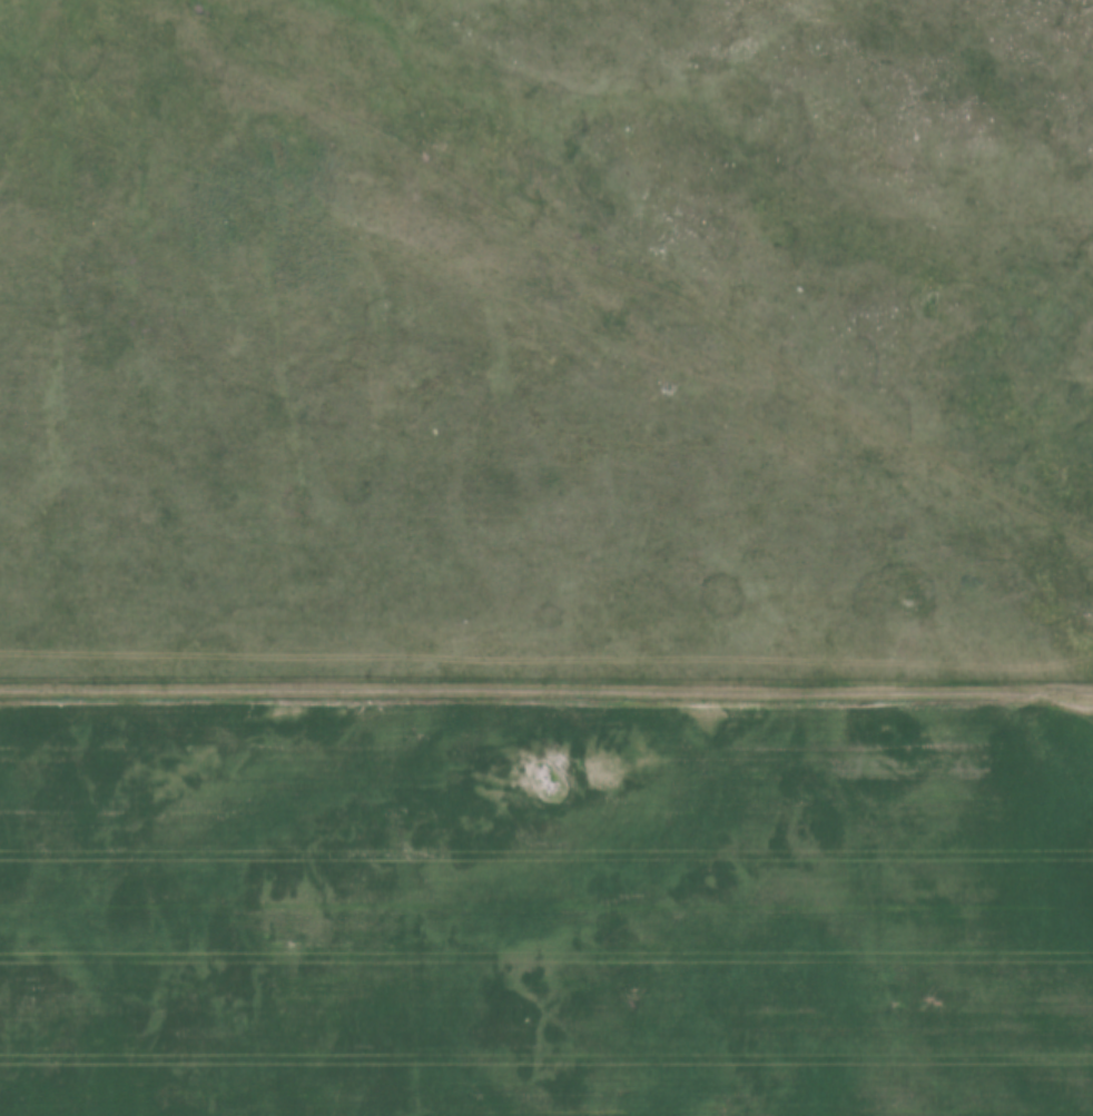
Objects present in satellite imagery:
crop: (543, 912)

